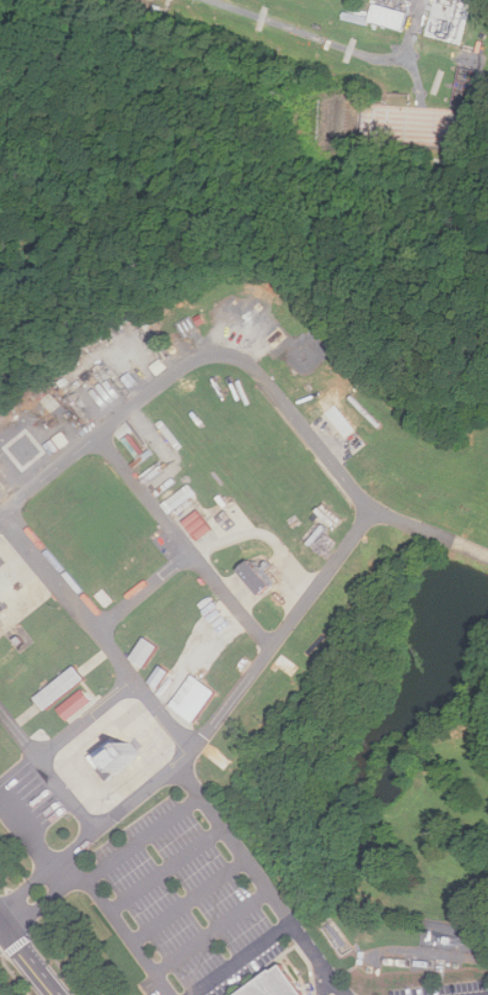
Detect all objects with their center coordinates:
building: (388, 16)
road: (333, 47)
road: (253, 368)
building: (198, 525)
building: (317, 529)
road: (182, 542)
building: (255, 578)
road: (143, 591)
road: (95, 631)
building: (146, 653)
building: (61, 687)
building: (194, 698)
road: (228, 704)
building: (75, 705)
building: (113, 759)
road: (48, 771)
road: (31, 837)
road: (144, 838)
road: (166, 868)
road: (260, 879)
road: (29, 889)
road: (190, 901)
road: (39, 907)
road: (0, 924)
road: (121, 927)
road: (212, 932)
road: (8, 933)
road: (243, 959)
road: (58, 963)
road: (37, 969)
road: (15, 976)
building: (277, 984)

